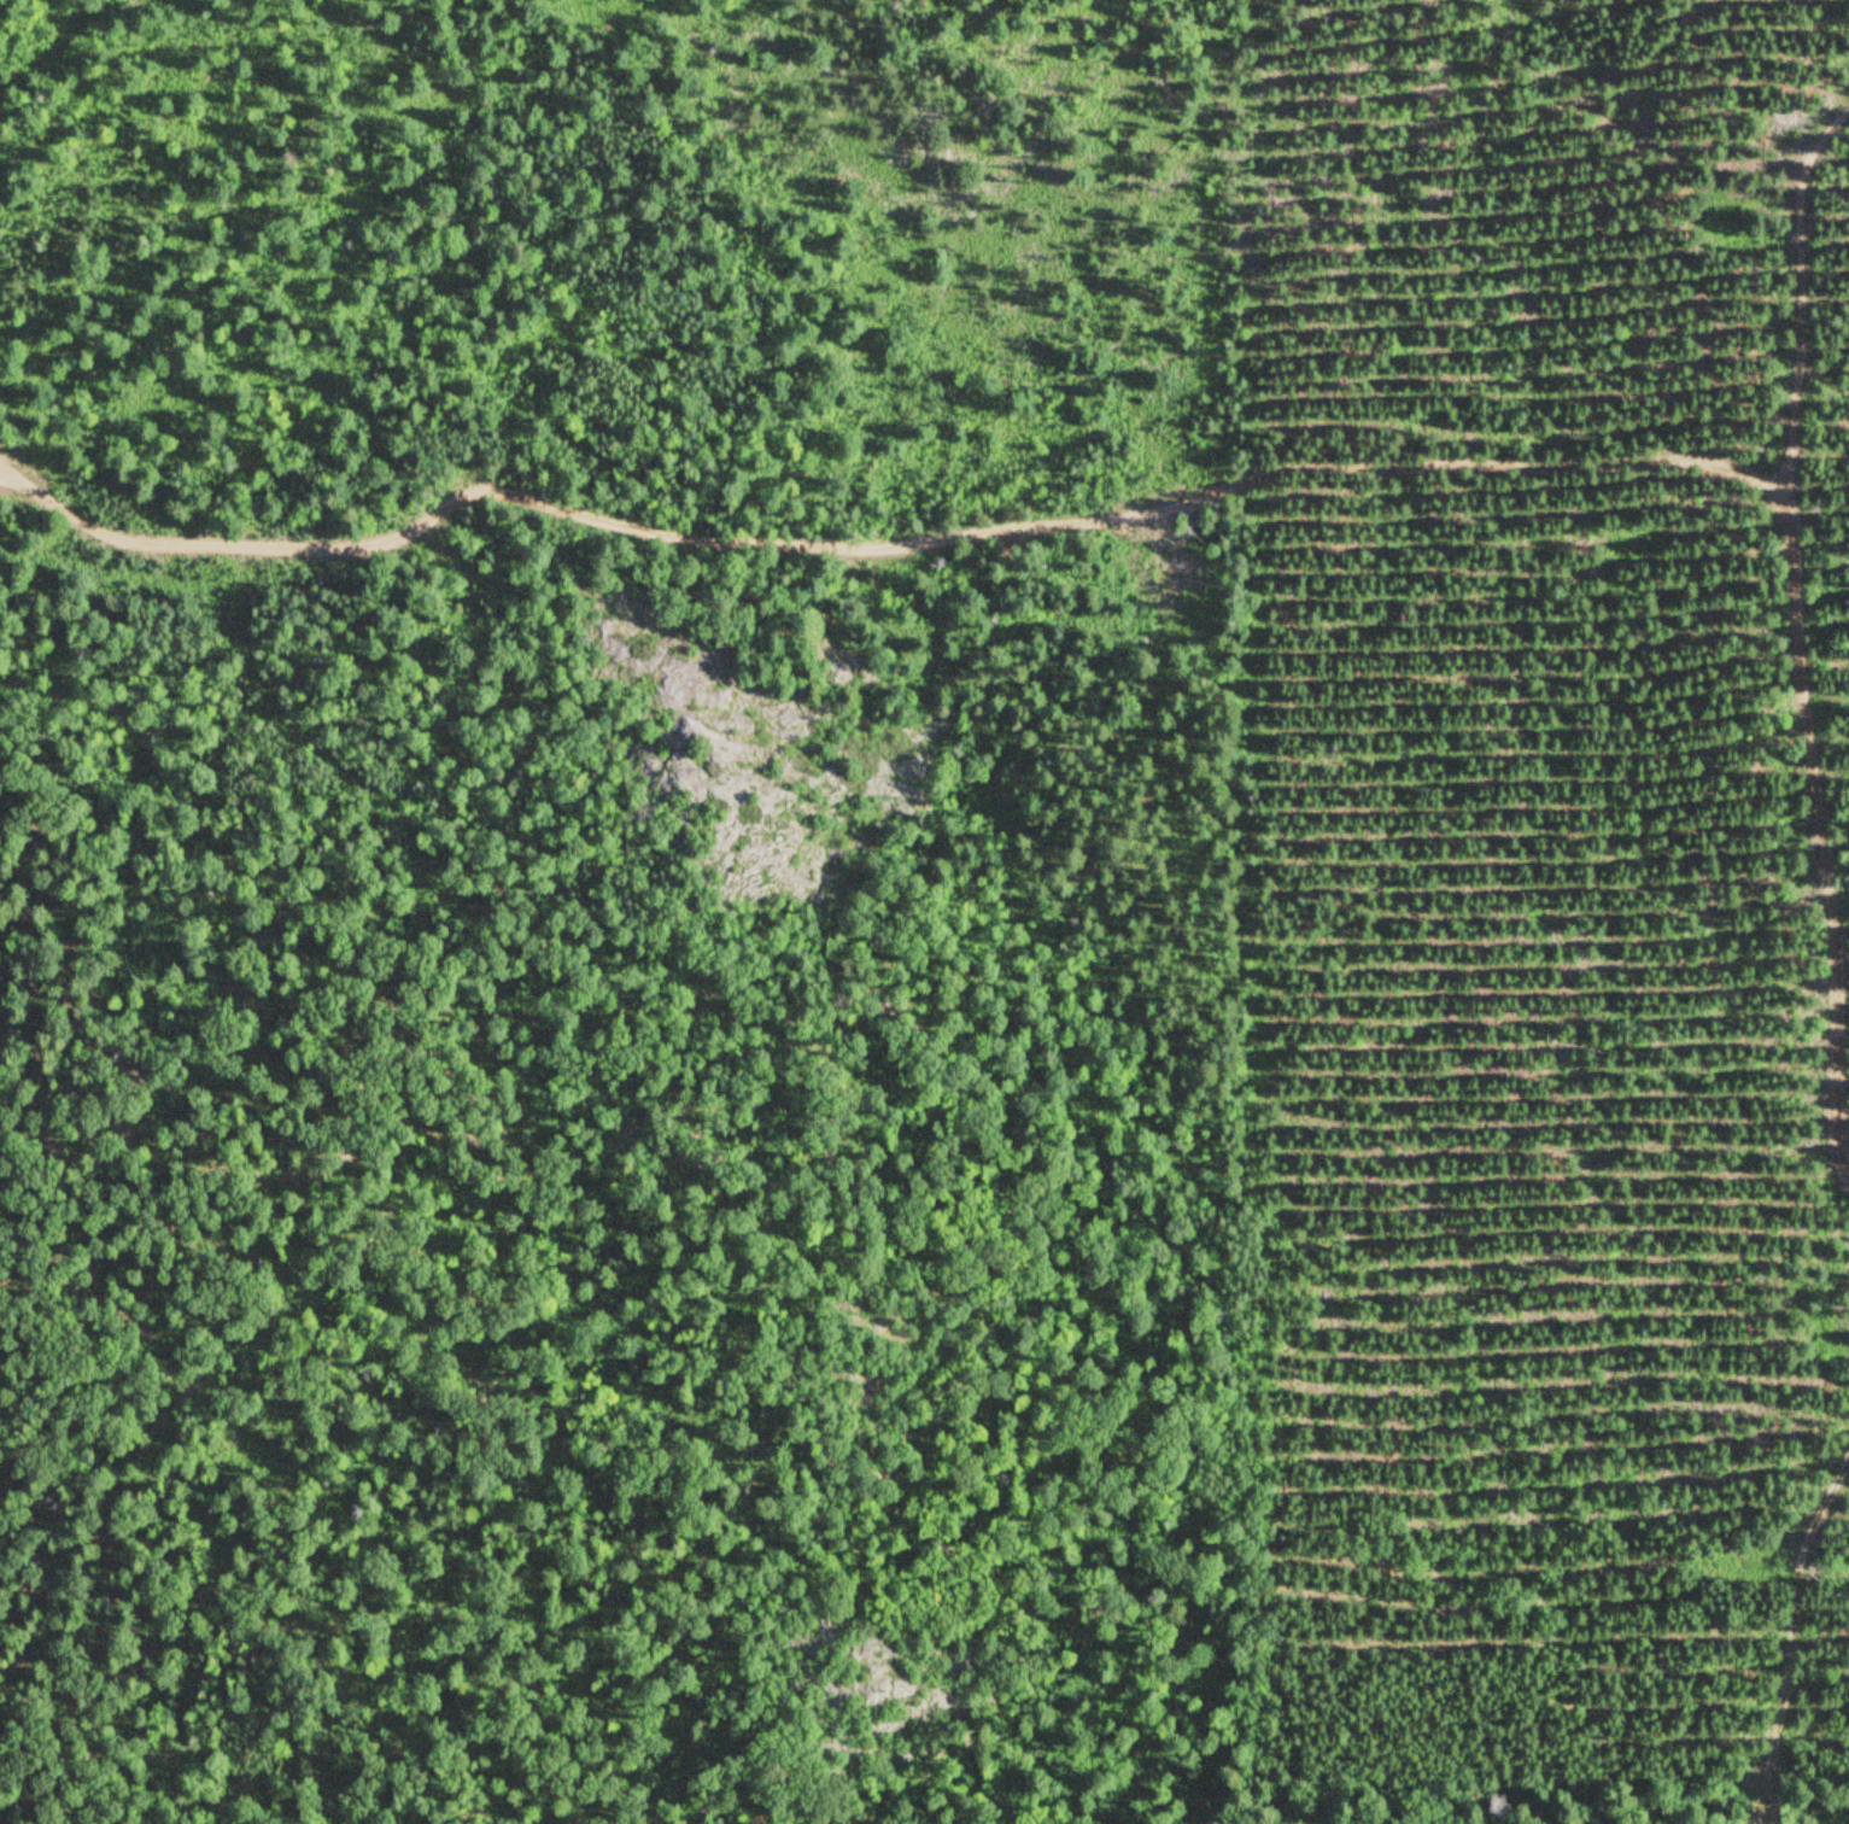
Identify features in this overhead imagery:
road: (1806, 641)

